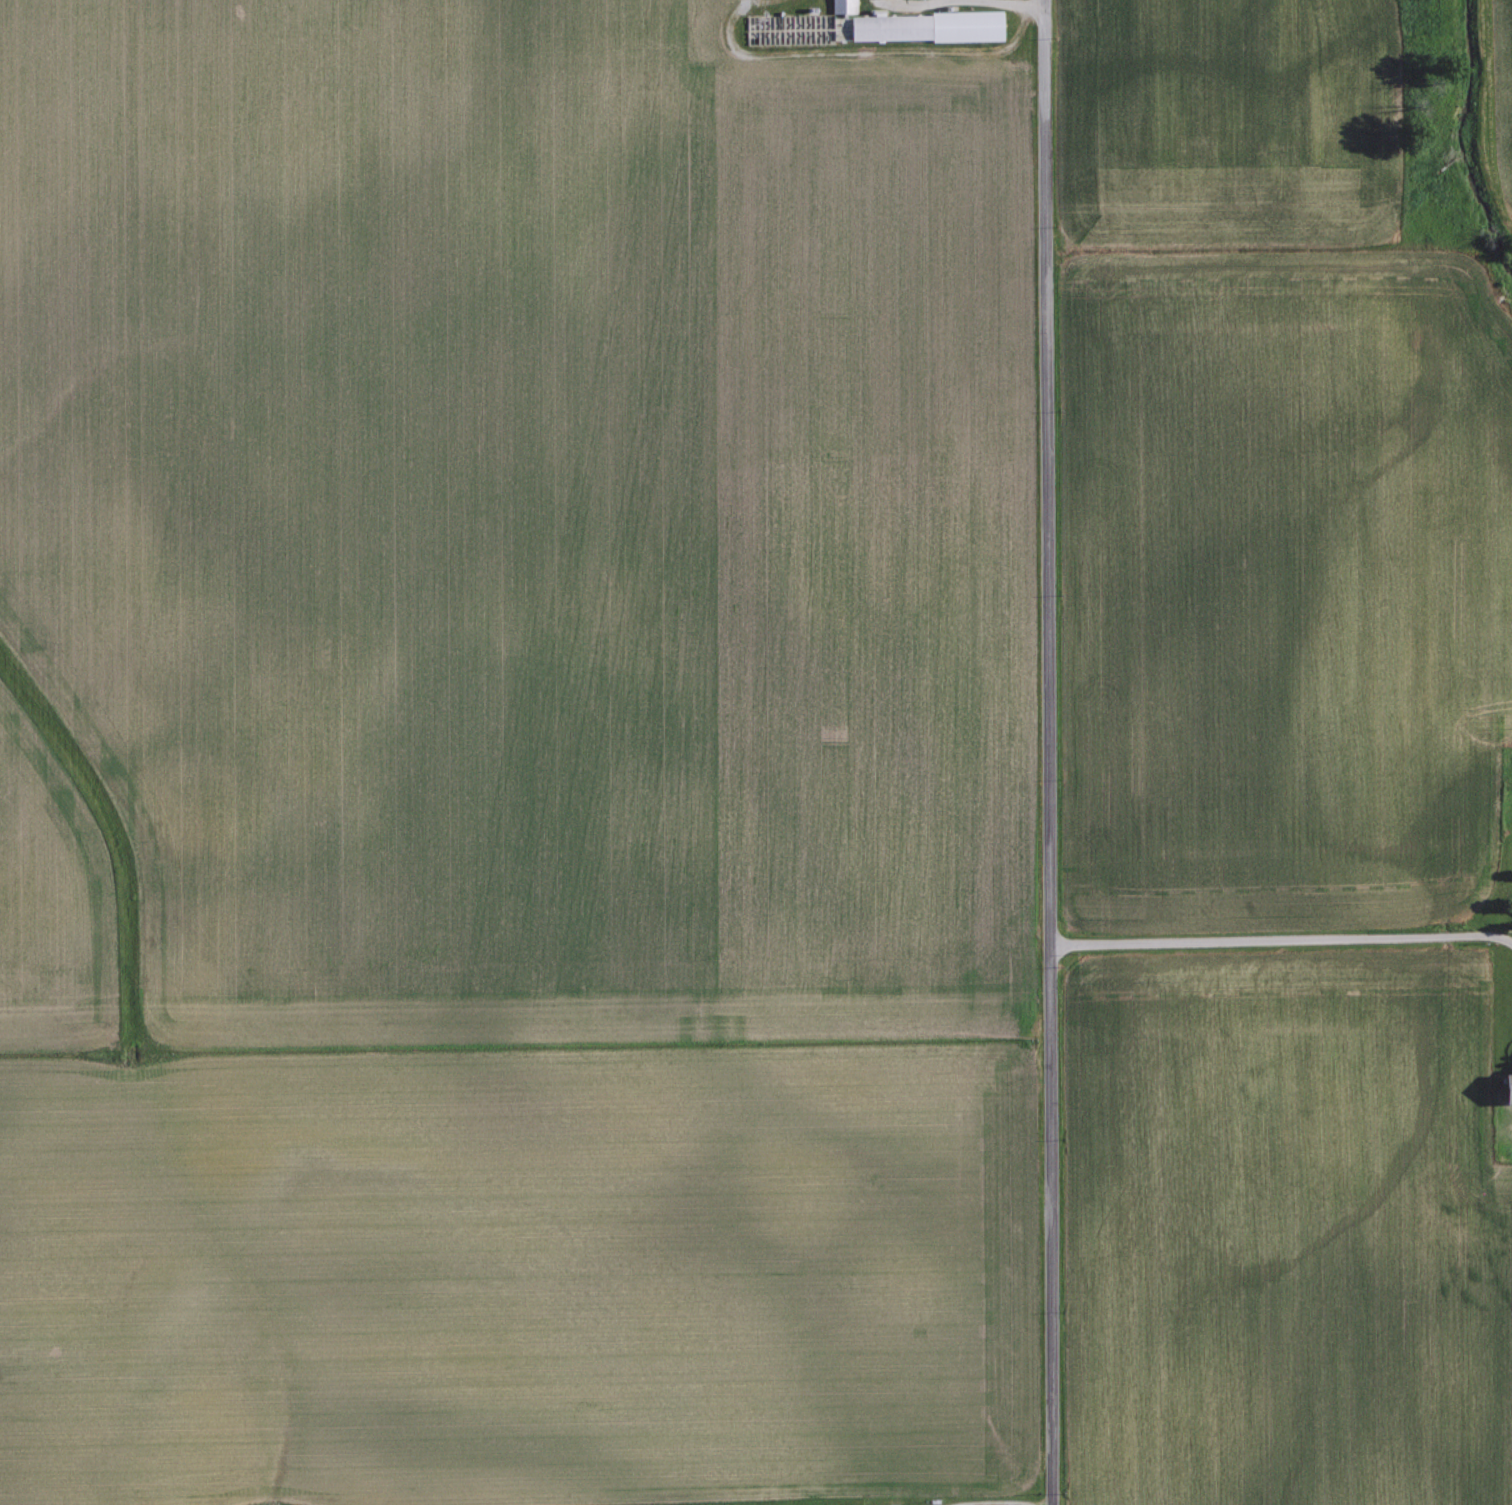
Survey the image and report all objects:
road: (1048, 752)
road: (1281, 941)
building: (1507, 1088)

